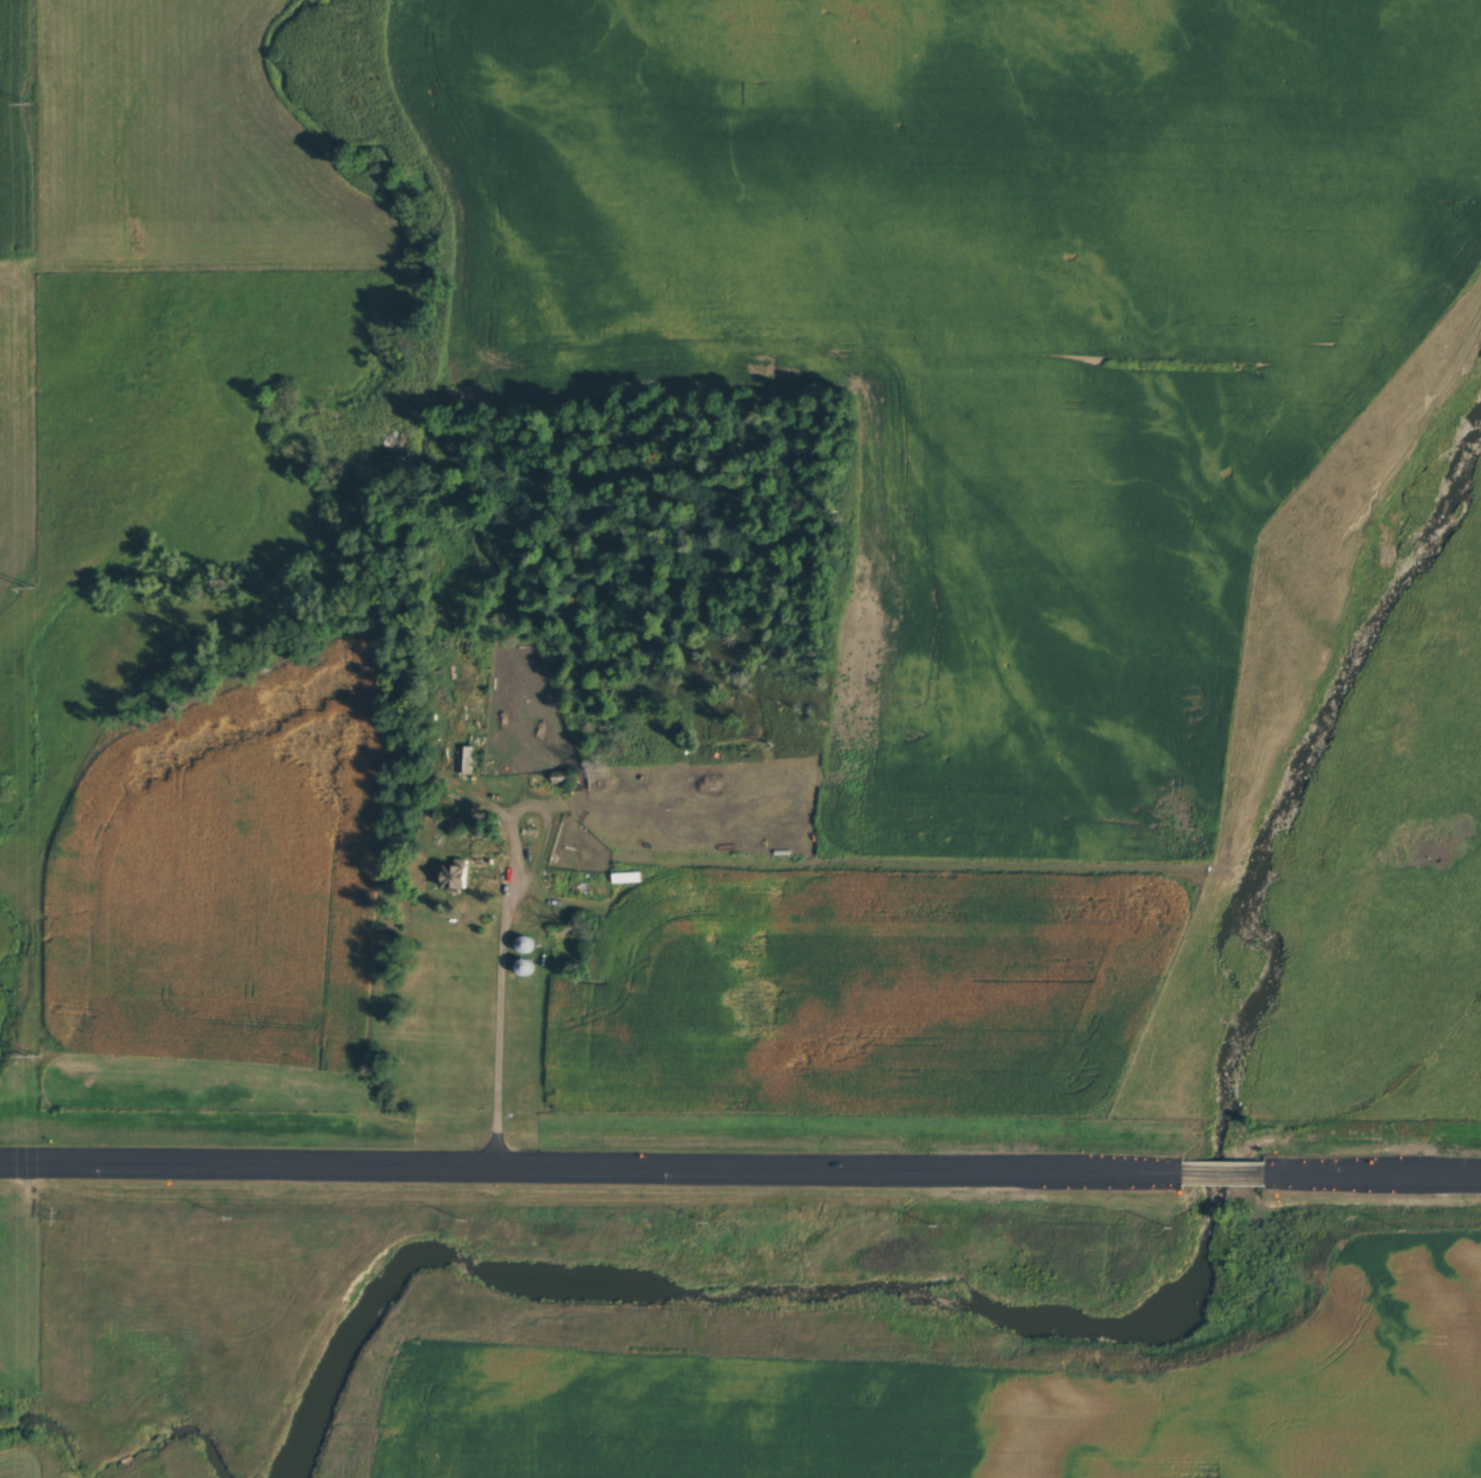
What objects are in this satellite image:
power tower: (28, 103)
power tower: (33, 588)
building: (465, 761)
building: (458, 876)
building: (563, 884)
road: (502, 942)
building: (526, 945)
building: (527, 968)
power tower: (35, 1056)
road: (590, 1169)
road: (1225, 1173)
road: (1375, 1175)
power tower: (58, 1216)

